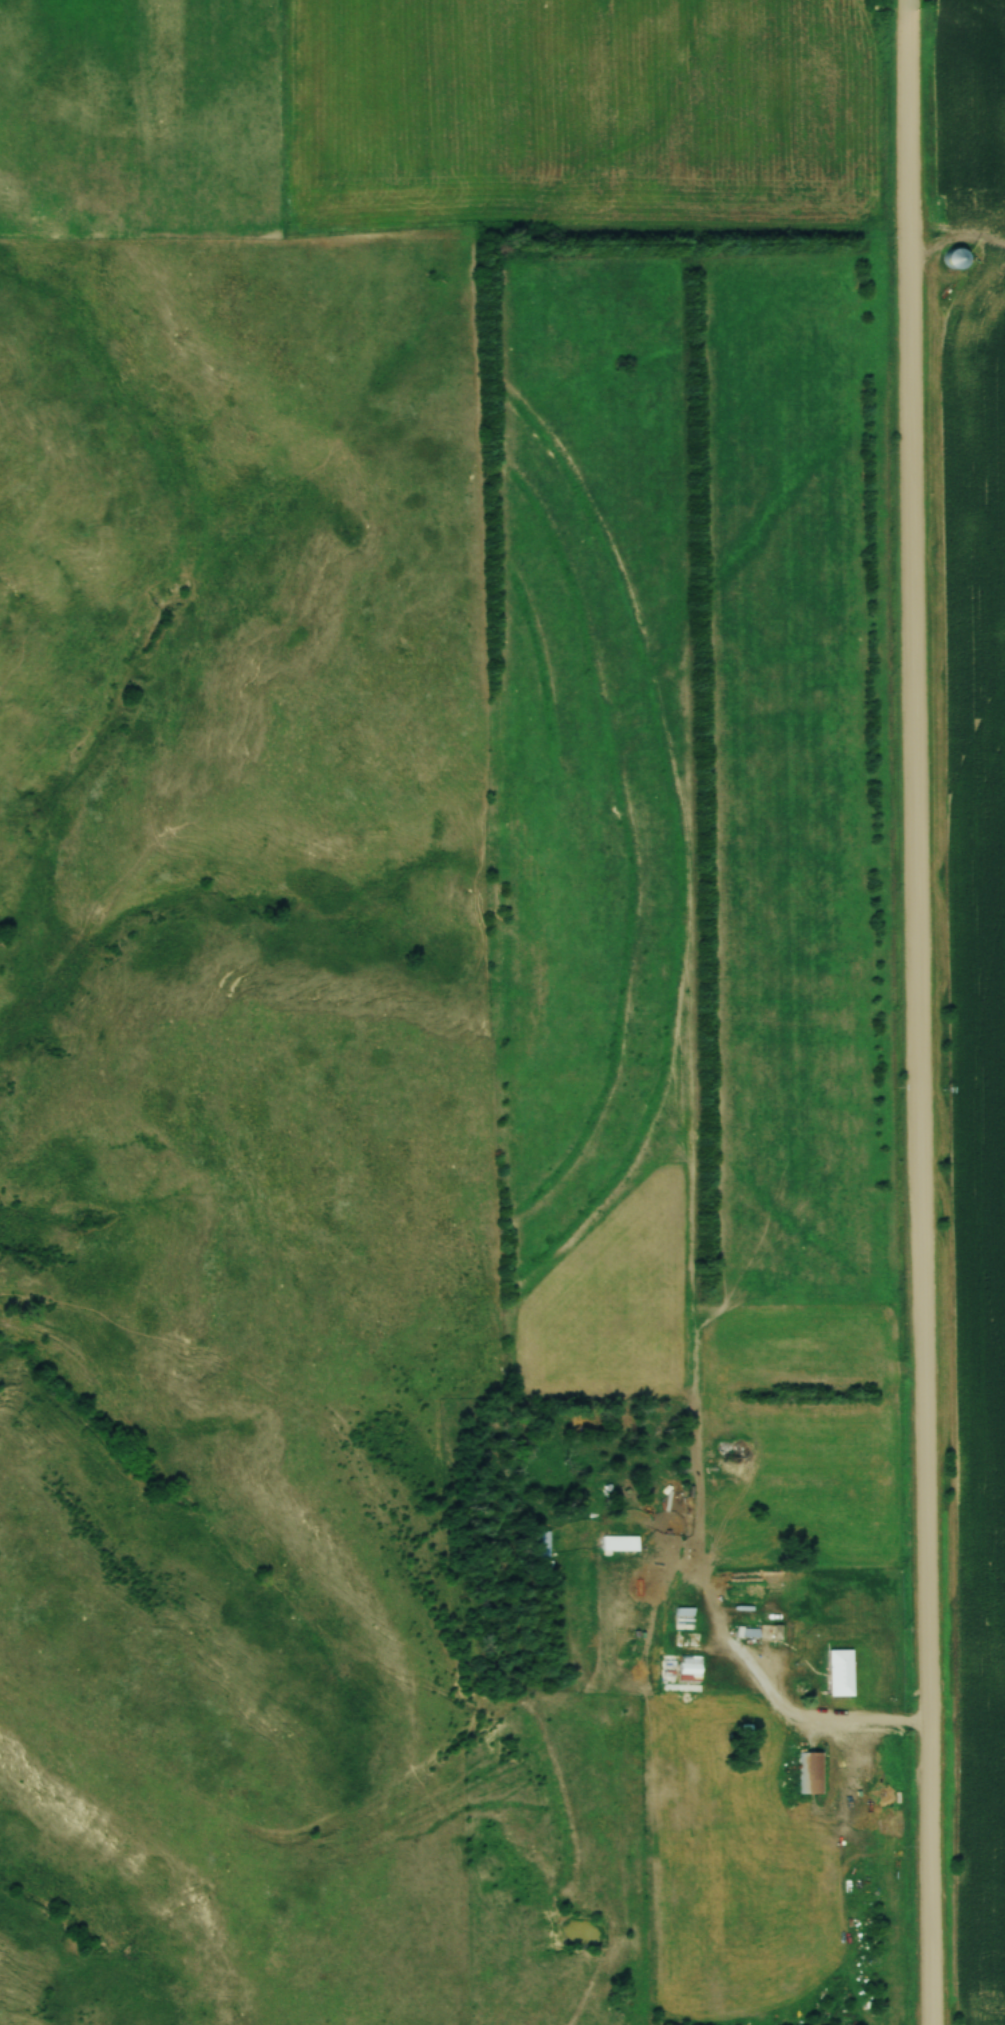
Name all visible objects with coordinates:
building: (951, 258)
road: (918, 1012)
building: (536, 1543)
building: (616, 1543)
building: (835, 1672)
building: (808, 1772)

